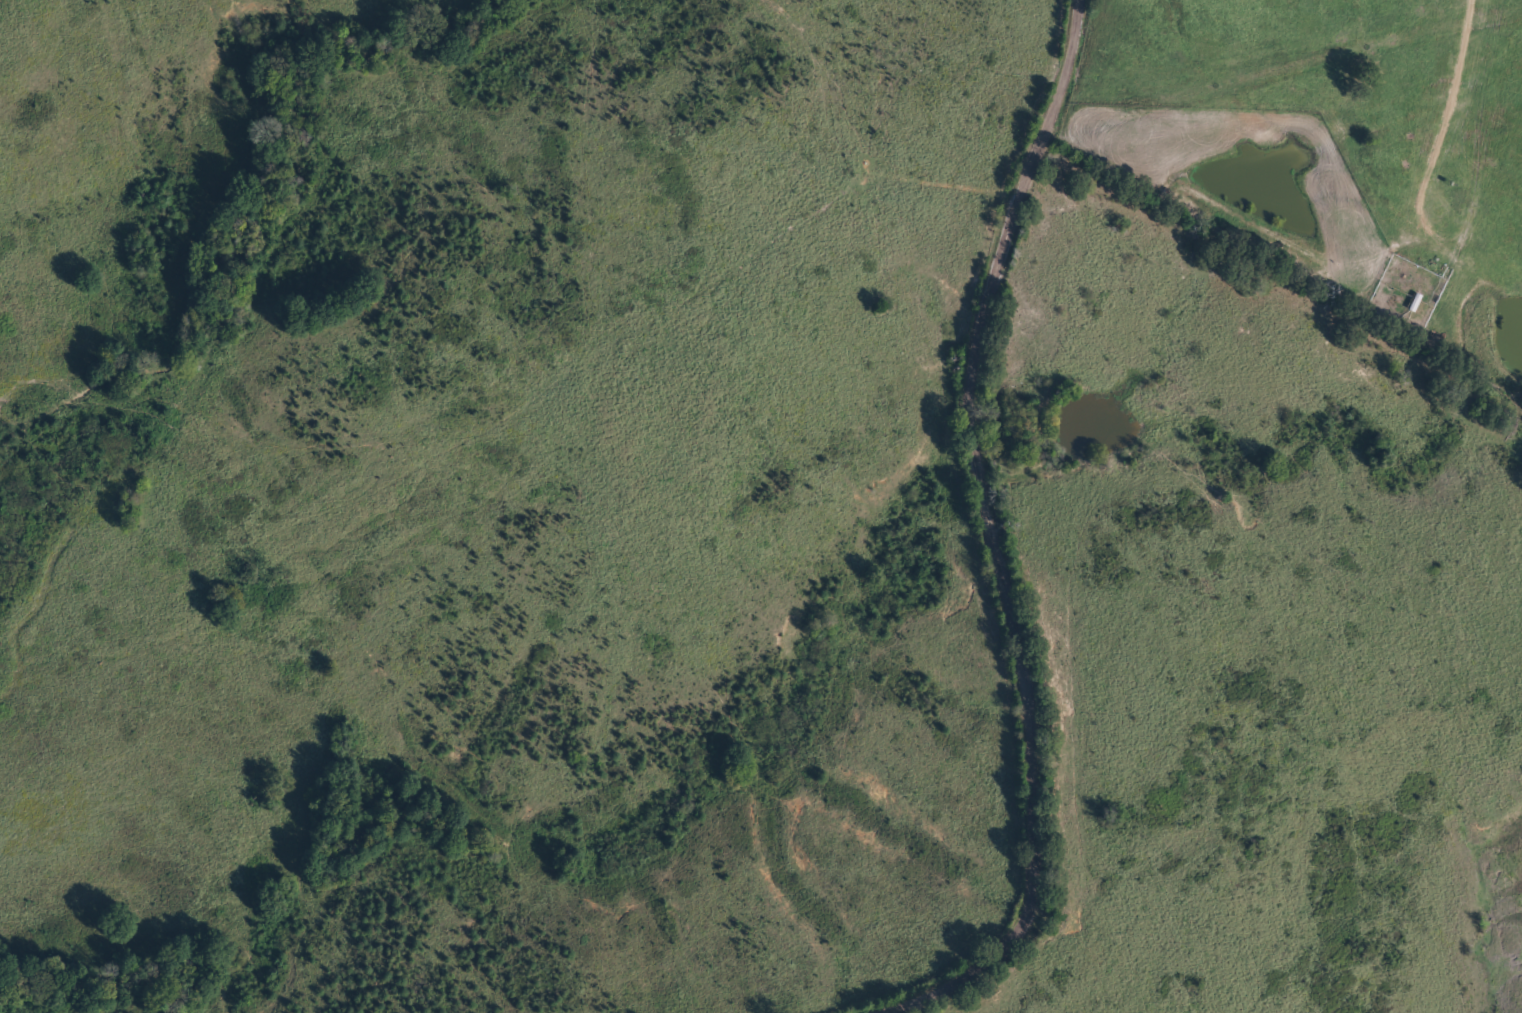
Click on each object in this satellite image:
road: (983, 551)

